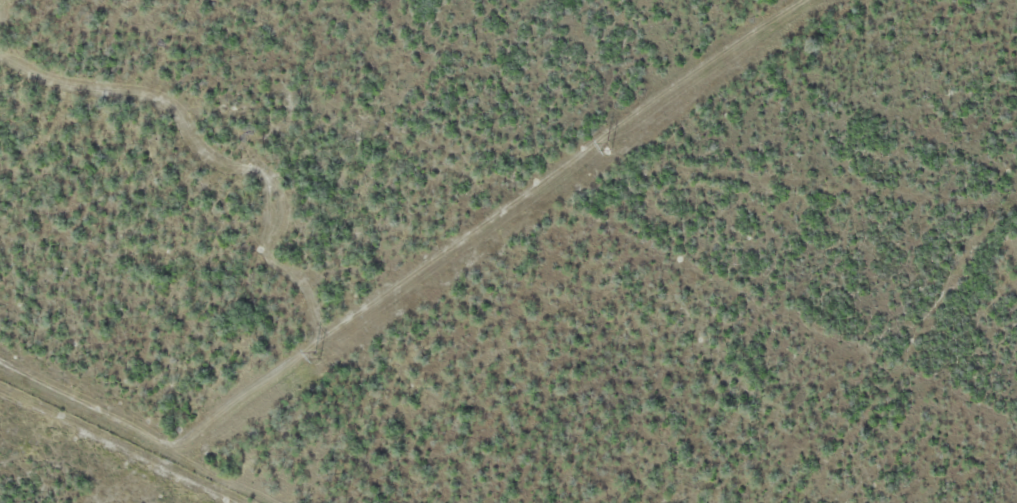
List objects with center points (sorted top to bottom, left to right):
power tower: (611, 145)
power tower: (321, 355)

